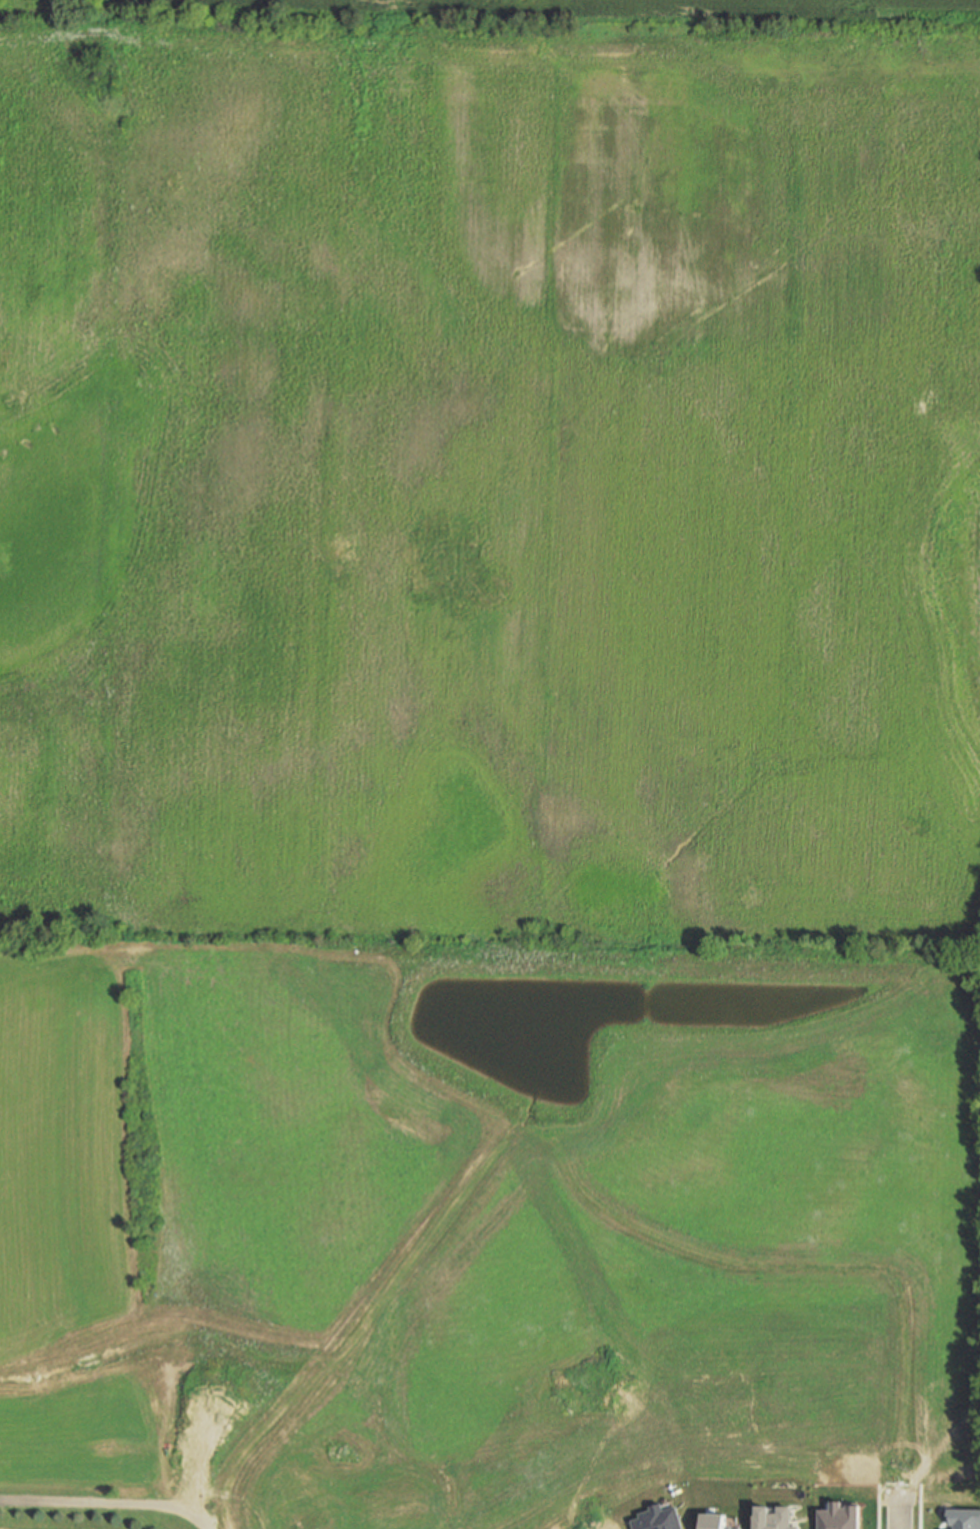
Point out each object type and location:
road: (772, 17)
road: (564, 24)
road: (772, 34)
crop: (492, 472)
road: (583, 1359)
road: (901, 1430)
road: (105, 1504)
road: (920, 1507)
road: (878, 1512)
building: (839, 1516)
building: (658, 1518)
building: (775, 1518)
building: (965, 1519)
building: (716, 1521)
building: (413, 1523)

